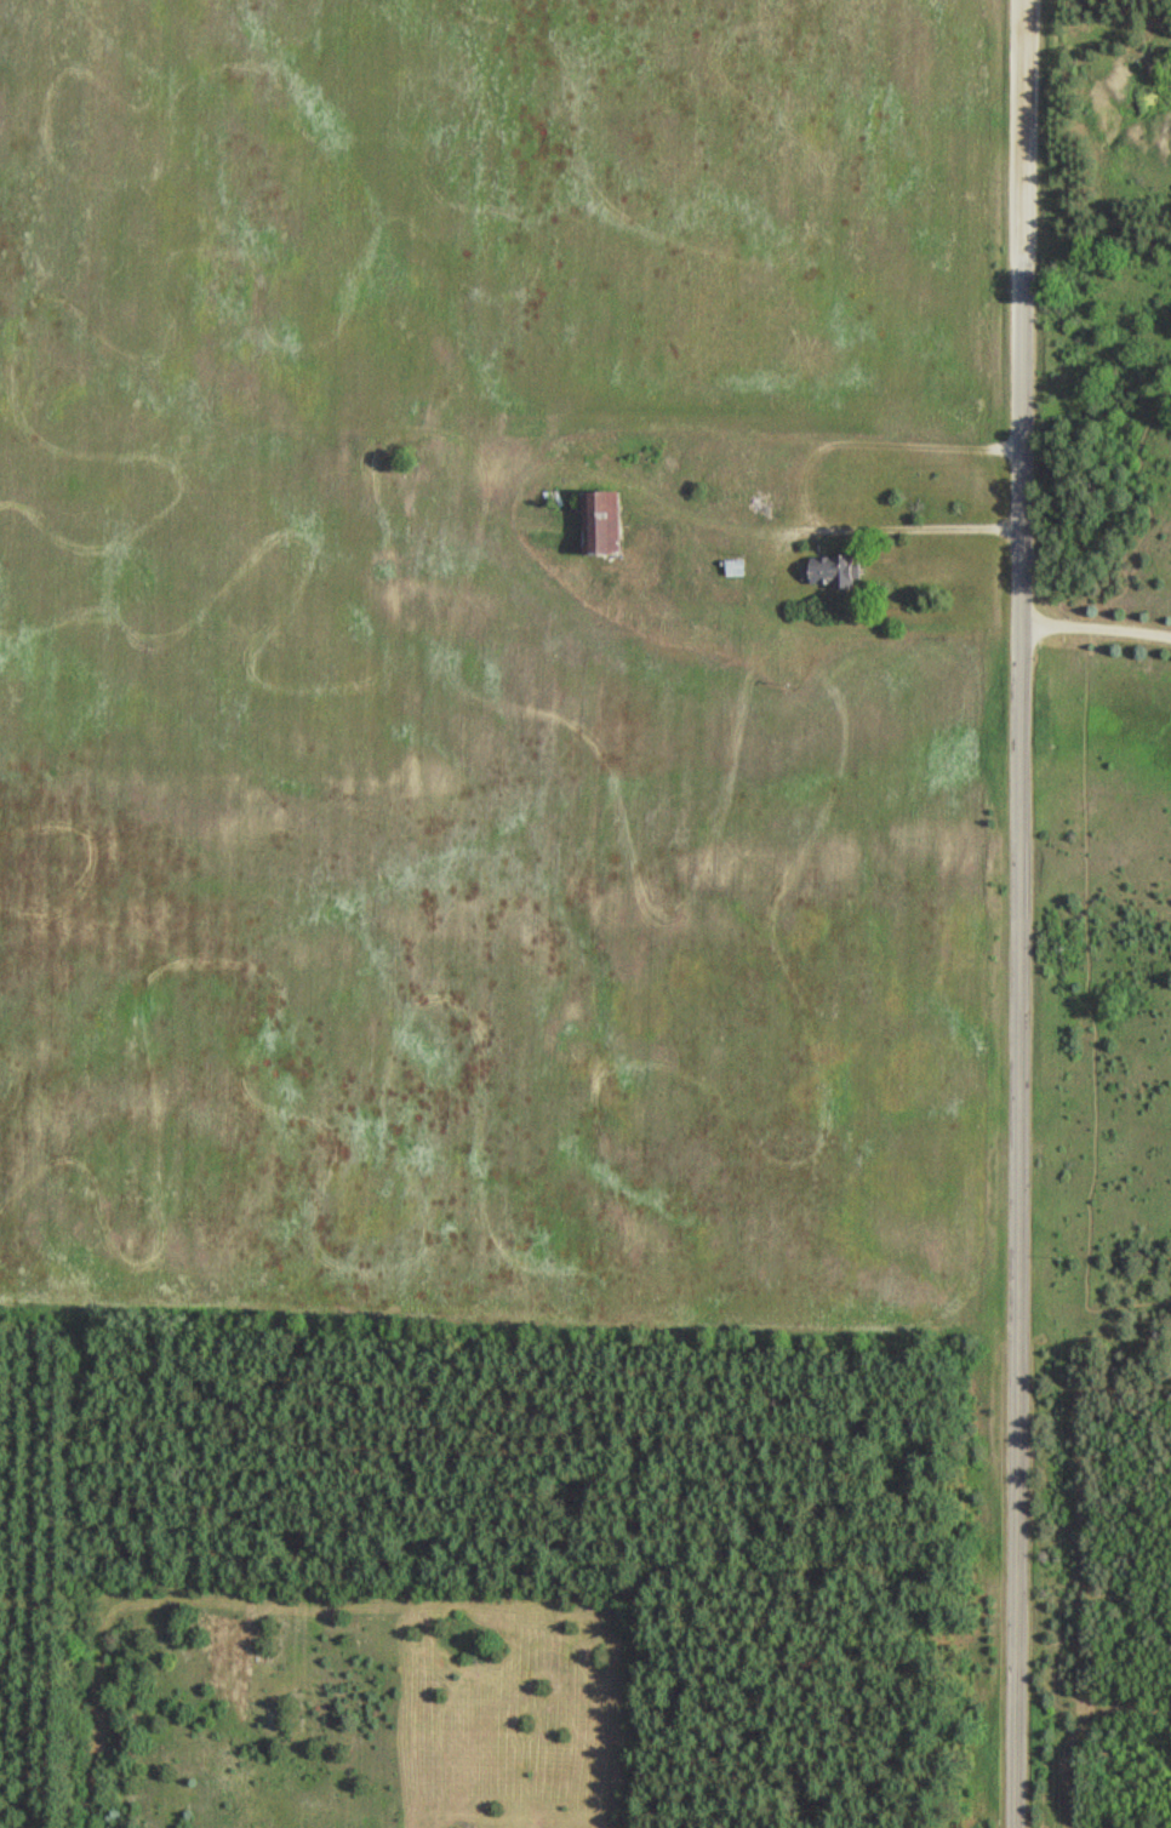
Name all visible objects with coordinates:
building: (739, 427)
building: (606, 521)
building: (738, 566)
building: (833, 569)
road: (1096, 623)
road: (1019, 914)

